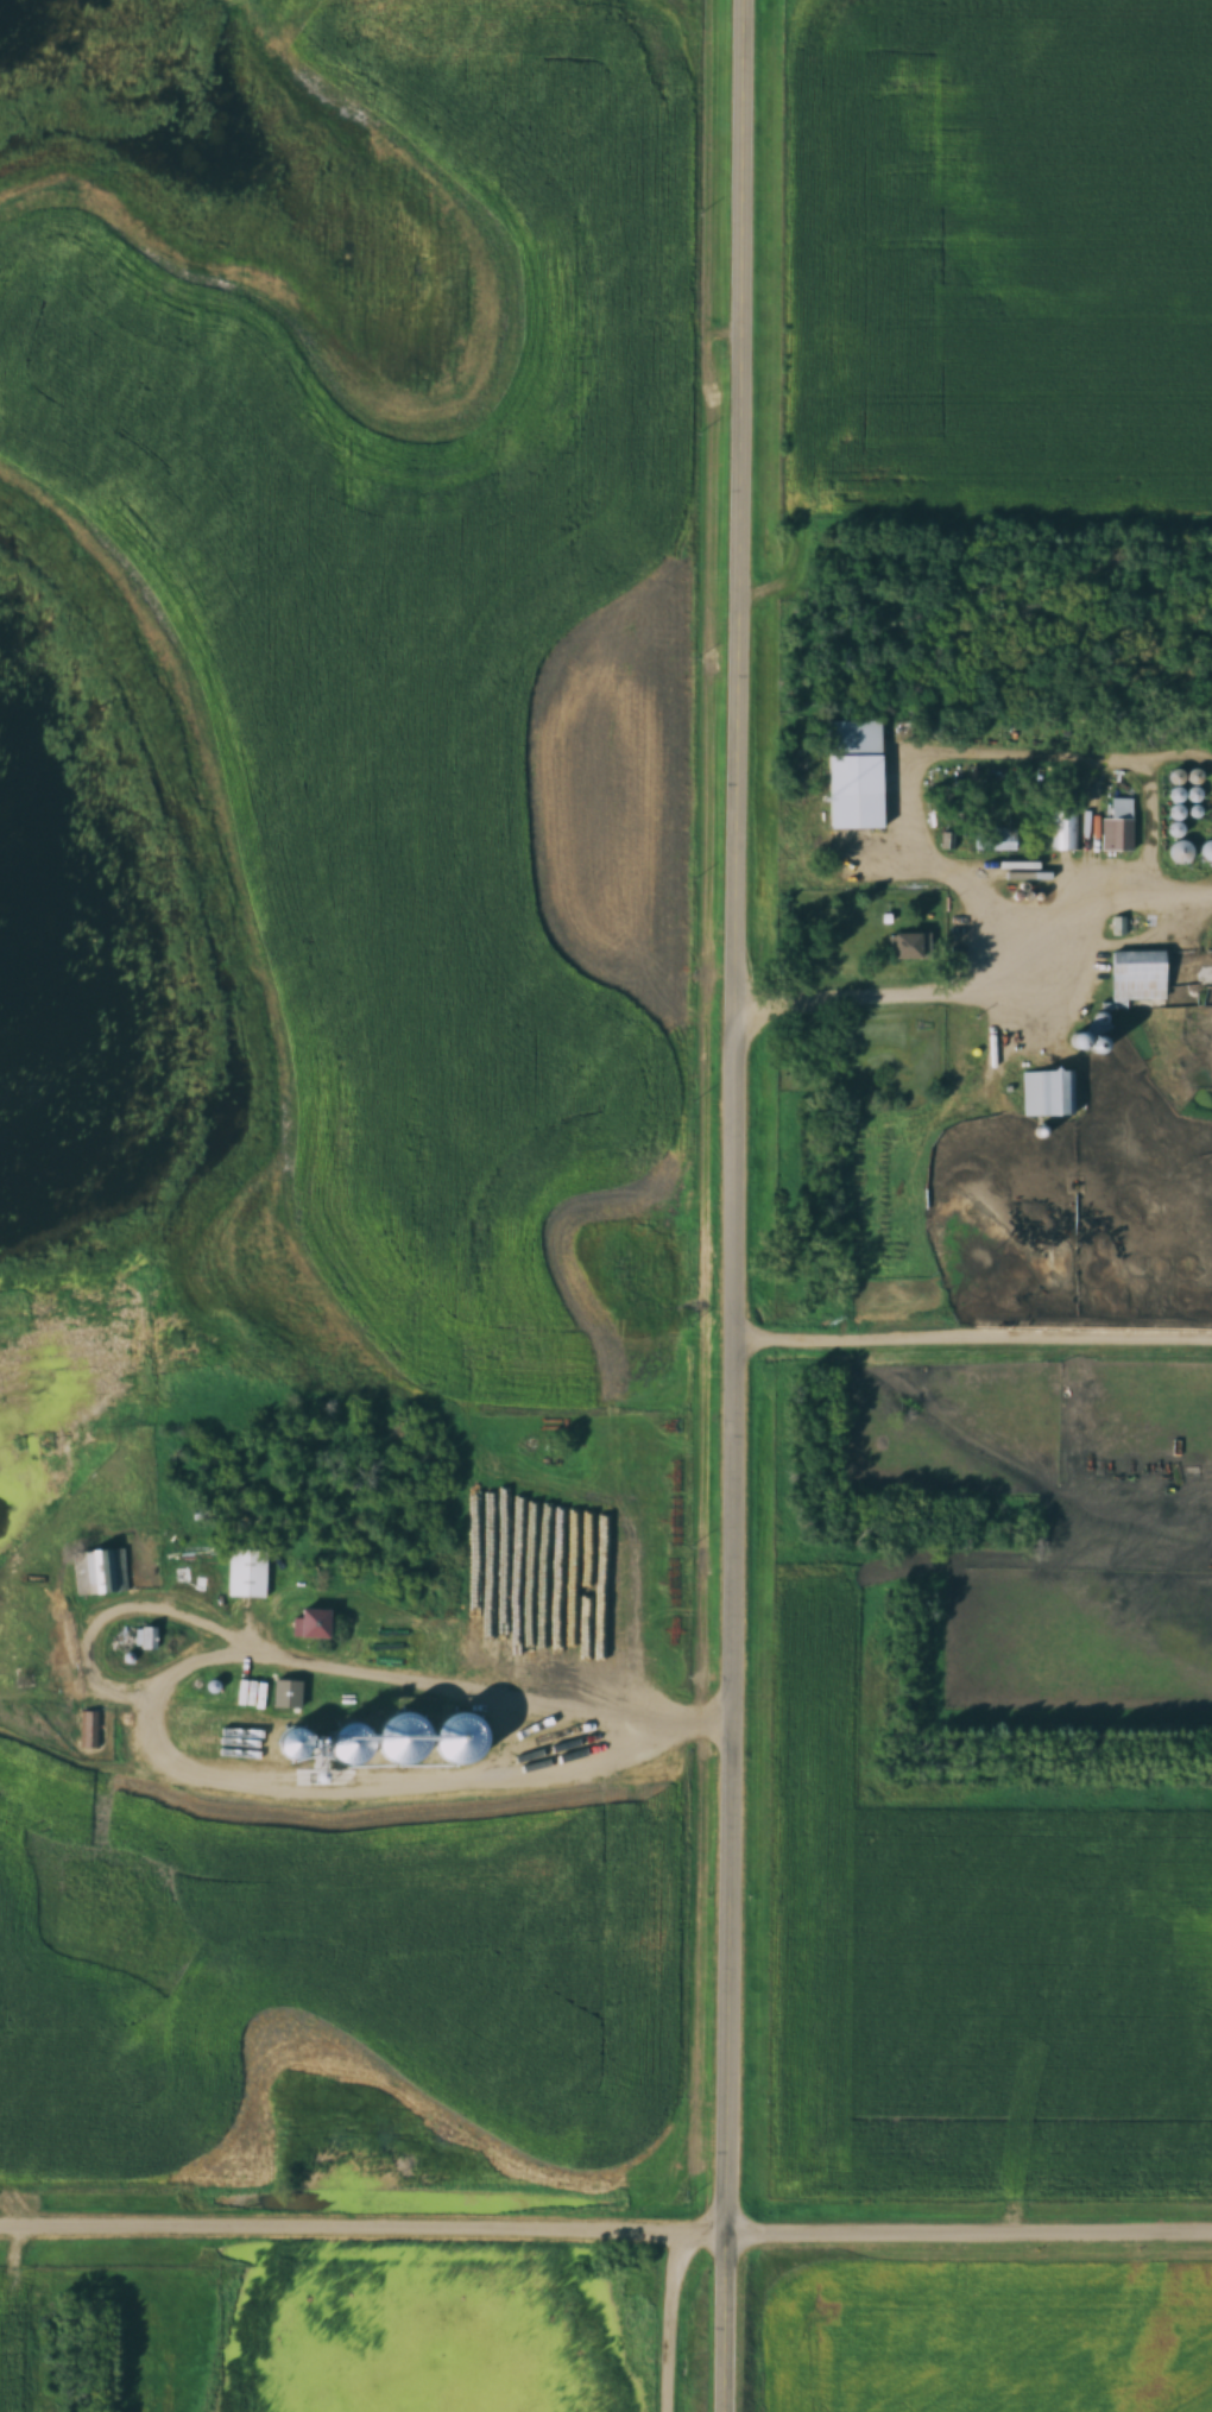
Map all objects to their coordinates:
building: (854, 768)
building: (1186, 785)
building: (1119, 827)
building: (1073, 829)
building: (998, 839)
building: (1179, 851)
building: (904, 945)
building: (1142, 974)
building: (1056, 1085)
road: (739, 1206)
building: (100, 1571)
building: (251, 1572)
building: (322, 1623)
building: (151, 1637)
building: (289, 1693)
road: (491, 1699)
building: (89, 1729)
road: (606, 2229)
road: (676, 2319)

